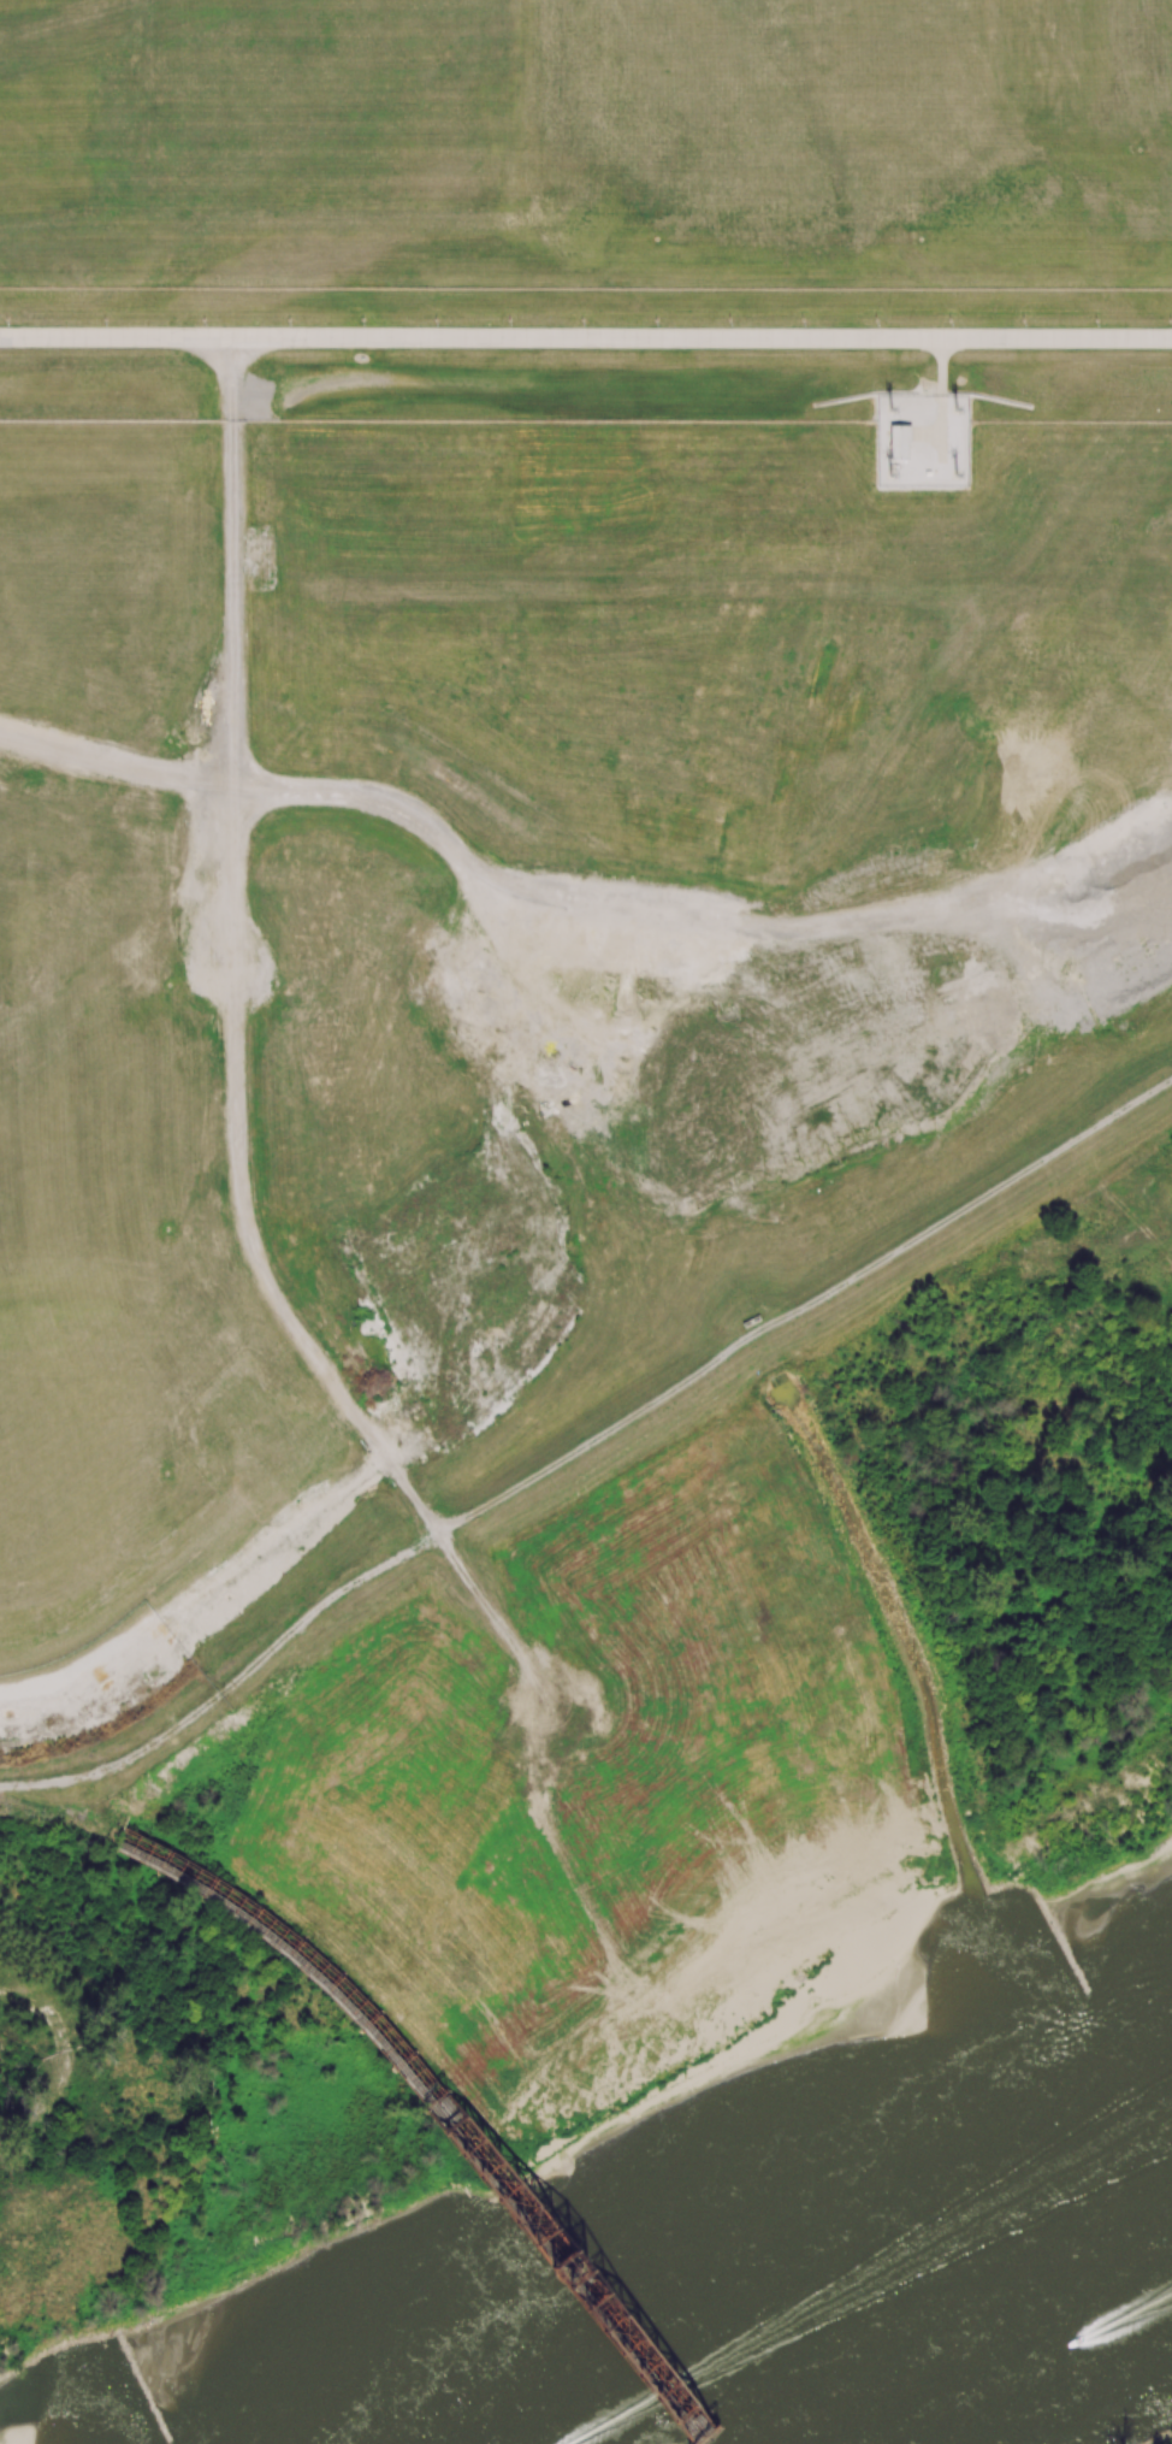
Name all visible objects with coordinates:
airport: (585, 209)
road: (586, 338)
building: (898, 442)
railway: (59, 1819)
railway: (444, 2107)
railway: (434, 2108)
park: (126, 2201)
river: (866, 2300)
railway: (695, 2425)

